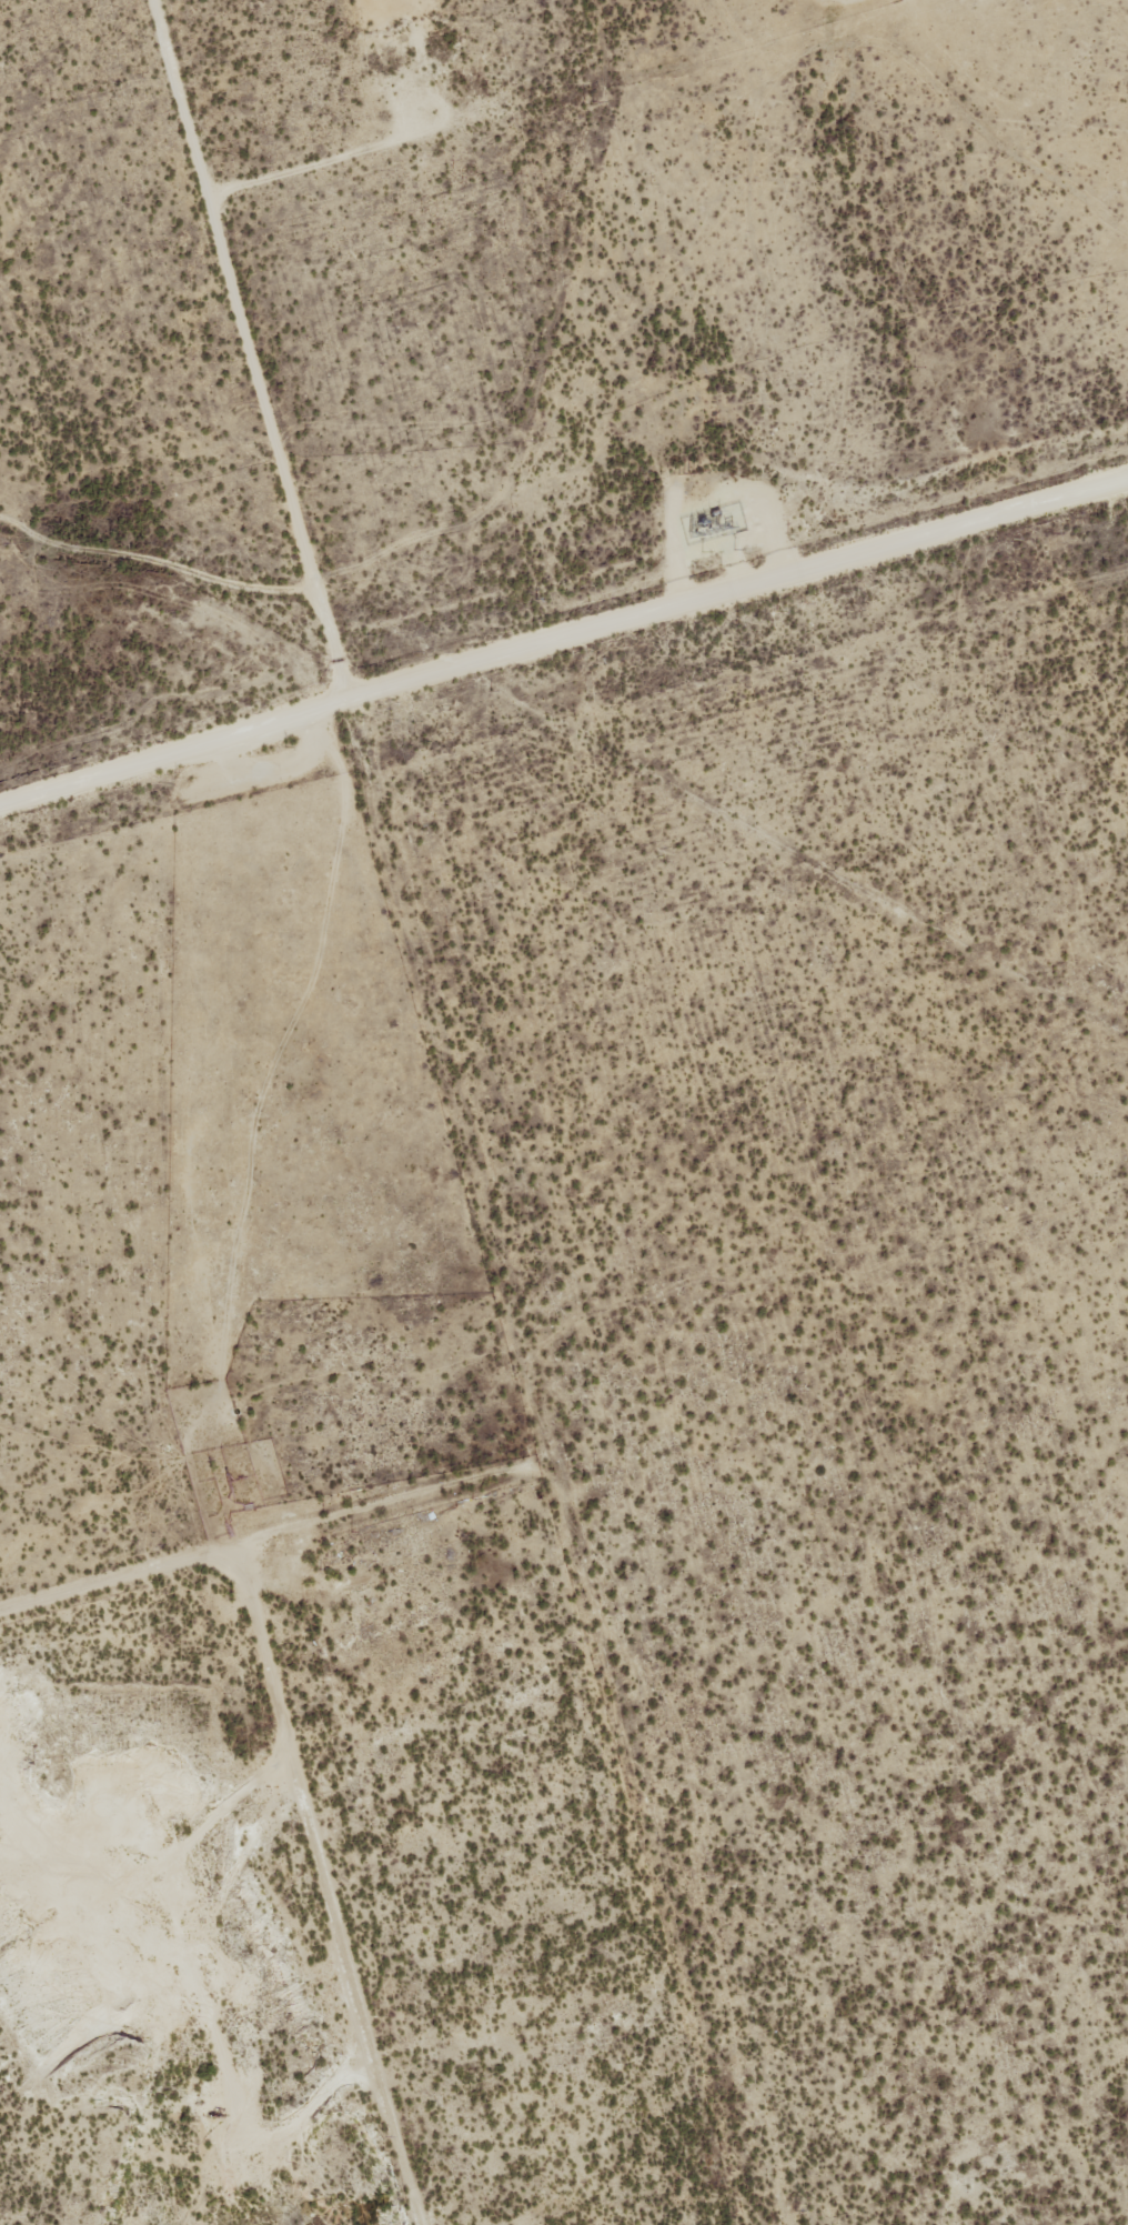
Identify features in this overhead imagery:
power tower: (587, 103)
power tower: (686, 472)
power substation: (711, 523)
road: (737, 579)
road: (174, 741)
road: (450, 1115)
road: (273, 1535)
road: (329, 1886)

